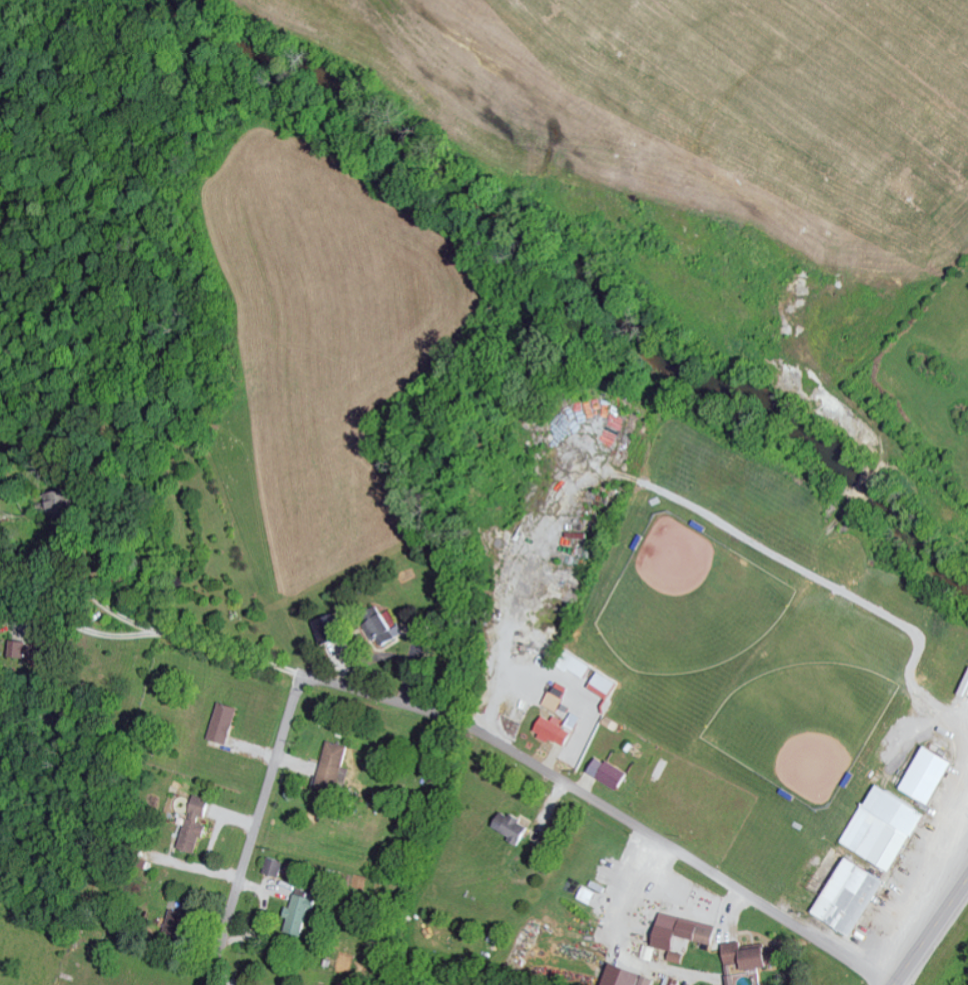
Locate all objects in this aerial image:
road: (256, 592)
building: (332, 627)
building: (387, 629)
building: (24, 648)
building: (604, 684)
building: (556, 697)
building: (225, 722)
building: (554, 729)
building: (916, 758)
building: (334, 765)
building: (609, 773)
building: (932, 774)
road: (611, 810)
building: (196, 822)
road: (256, 825)
building: (885, 826)
building: (513, 827)
building: (275, 866)
building: (852, 896)
building: (302, 911)
building: (179, 920)
building: (684, 930)
road: (931, 932)
building: (678, 956)
building: (629, 976)

